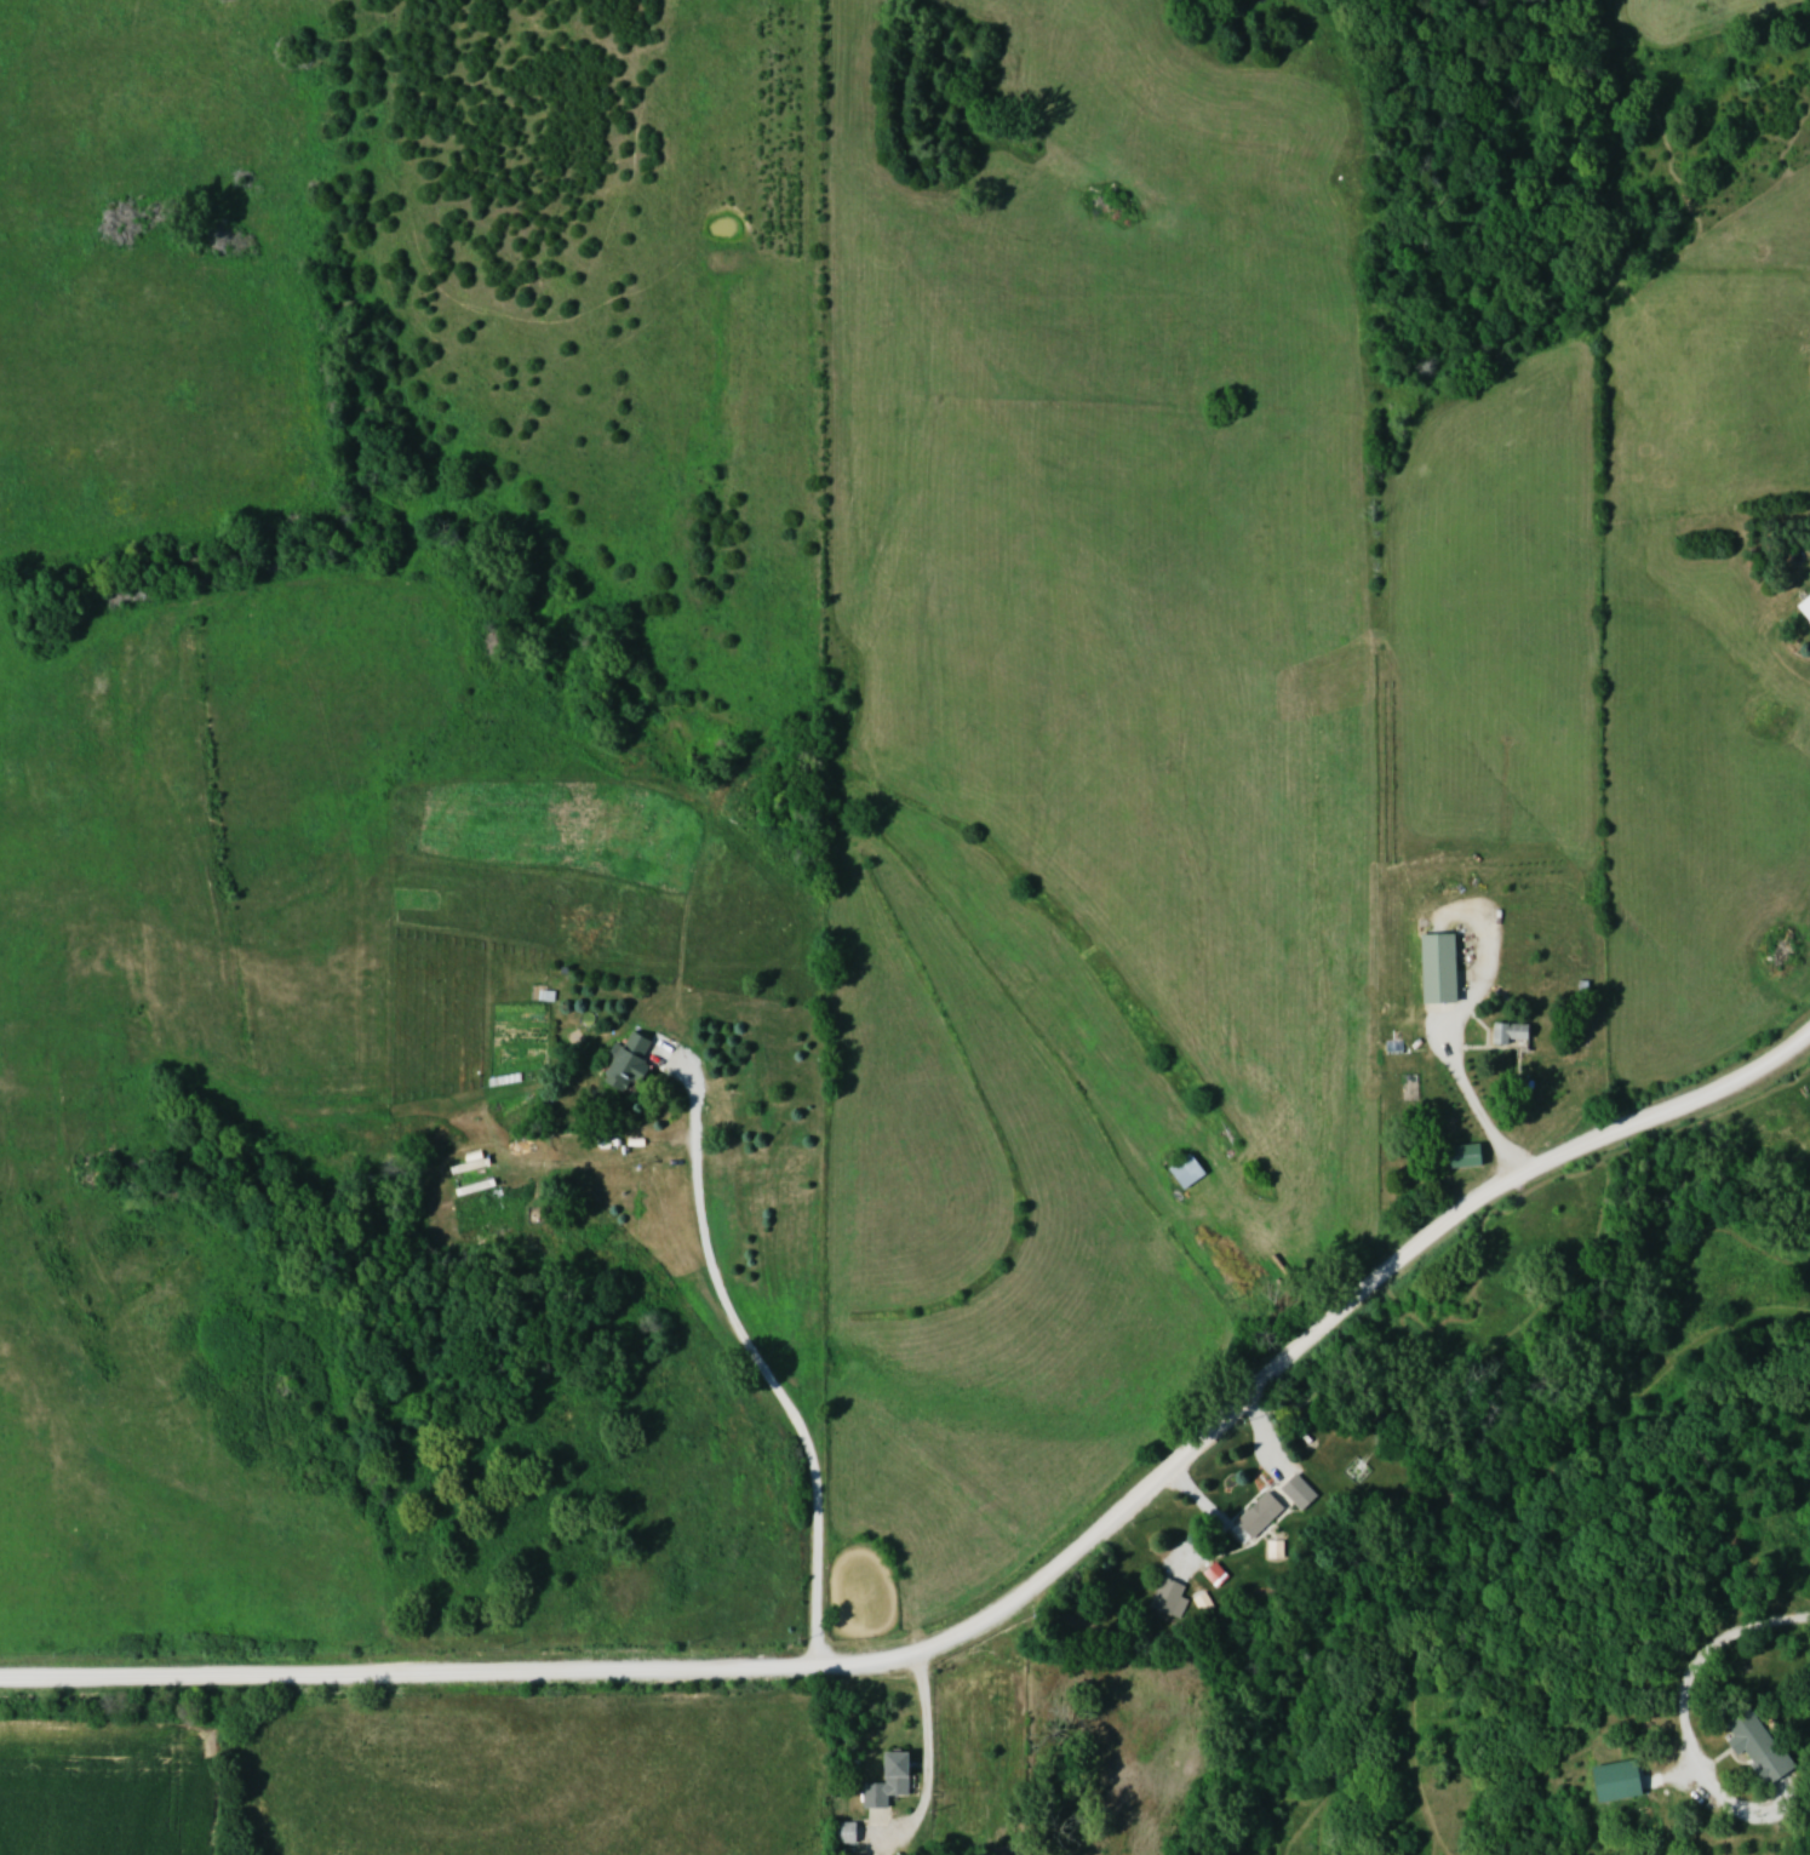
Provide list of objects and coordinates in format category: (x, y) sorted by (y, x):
building: (1804, 607)
building: (1448, 967)
building: (1519, 1031)
building: (637, 1063)
road: (1478, 1107)
building: (1192, 1169)
road: (764, 1363)
building: (1277, 1508)
building: (1221, 1578)
building: (1173, 1596)
road: (997, 1620)
road: (1696, 1654)
building: (1764, 1746)
road: (933, 1758)
building: (897, 1780)
building: (1626, 1780)

